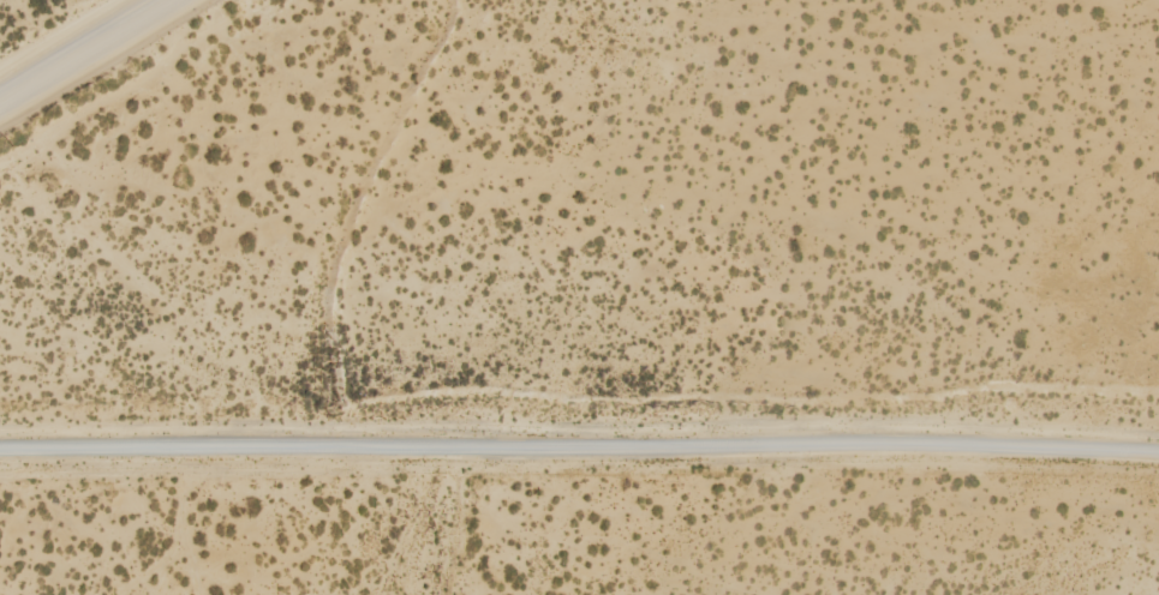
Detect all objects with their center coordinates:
road: (85, 50)
building: (155, 258)
building: (482, 319)
building: (220, 333)
road: (579, 444)

